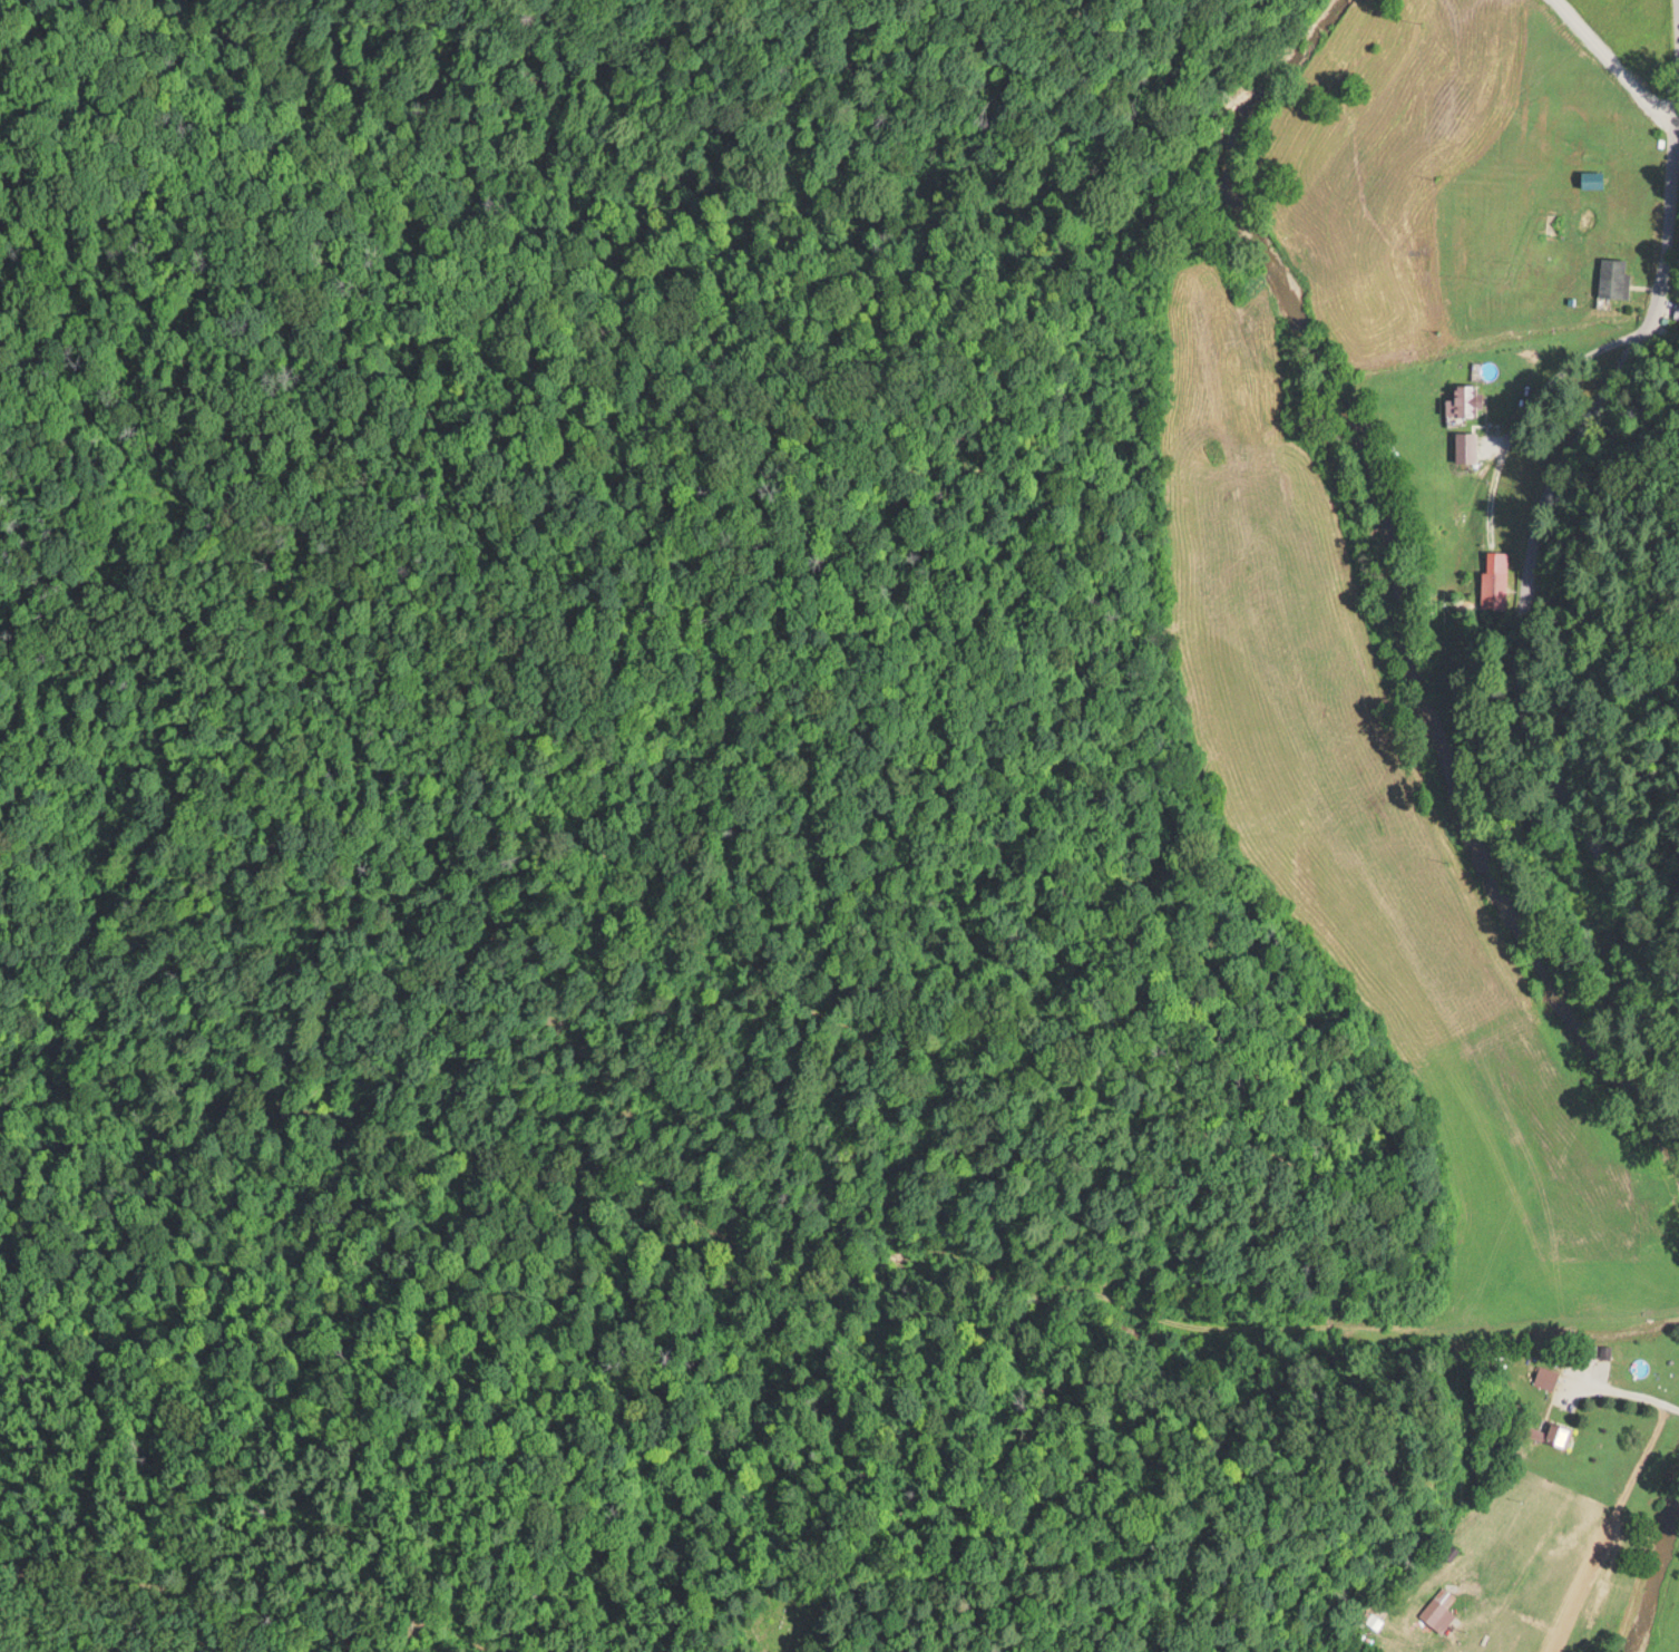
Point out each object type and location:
building: (1589, 178)
building: (1611, 276)
building: (1677, 310)
road: (1553, 350)
building: (1463, 399)
road: (1542, 513)
building: (1493, 580)
river: (1395, 587)
building: (1544, 1376)
road: (1629, 1392)
building: (1549, 1432)
river: (1650, 1570)

